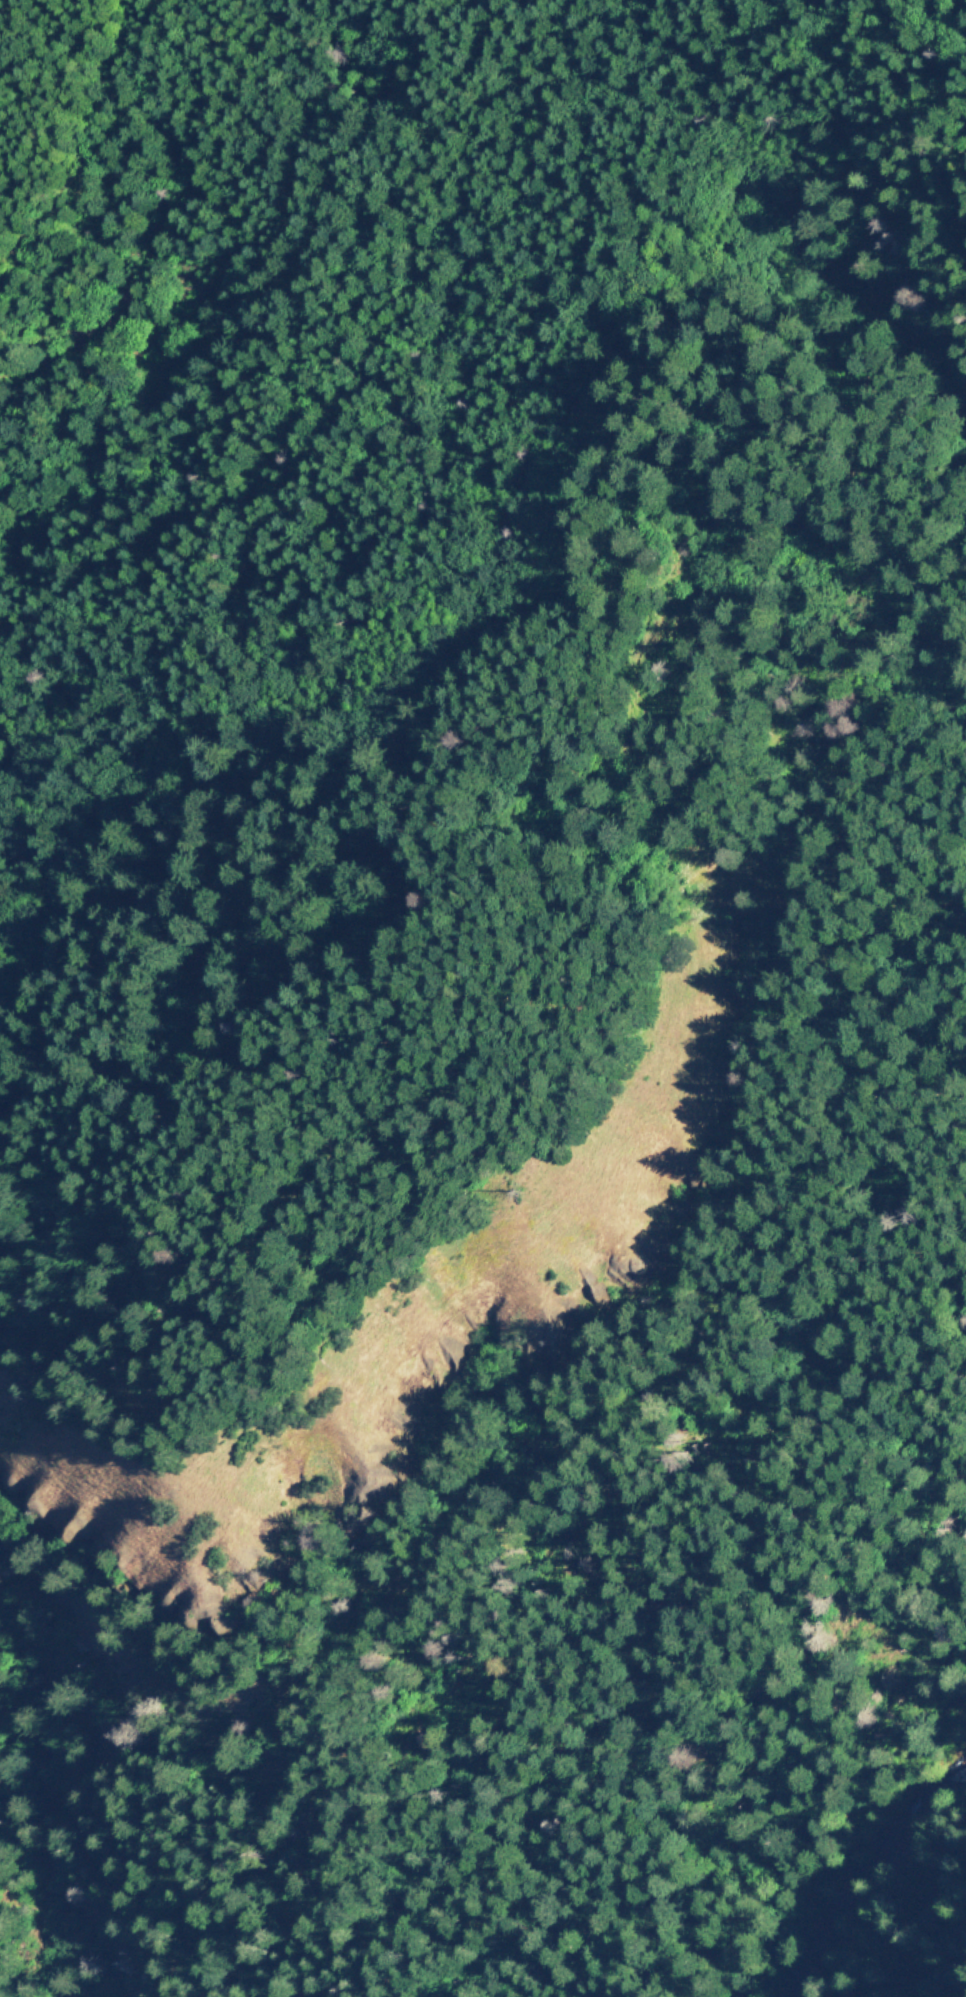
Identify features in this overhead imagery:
road: (62, 346)
river: (856, 1863)

